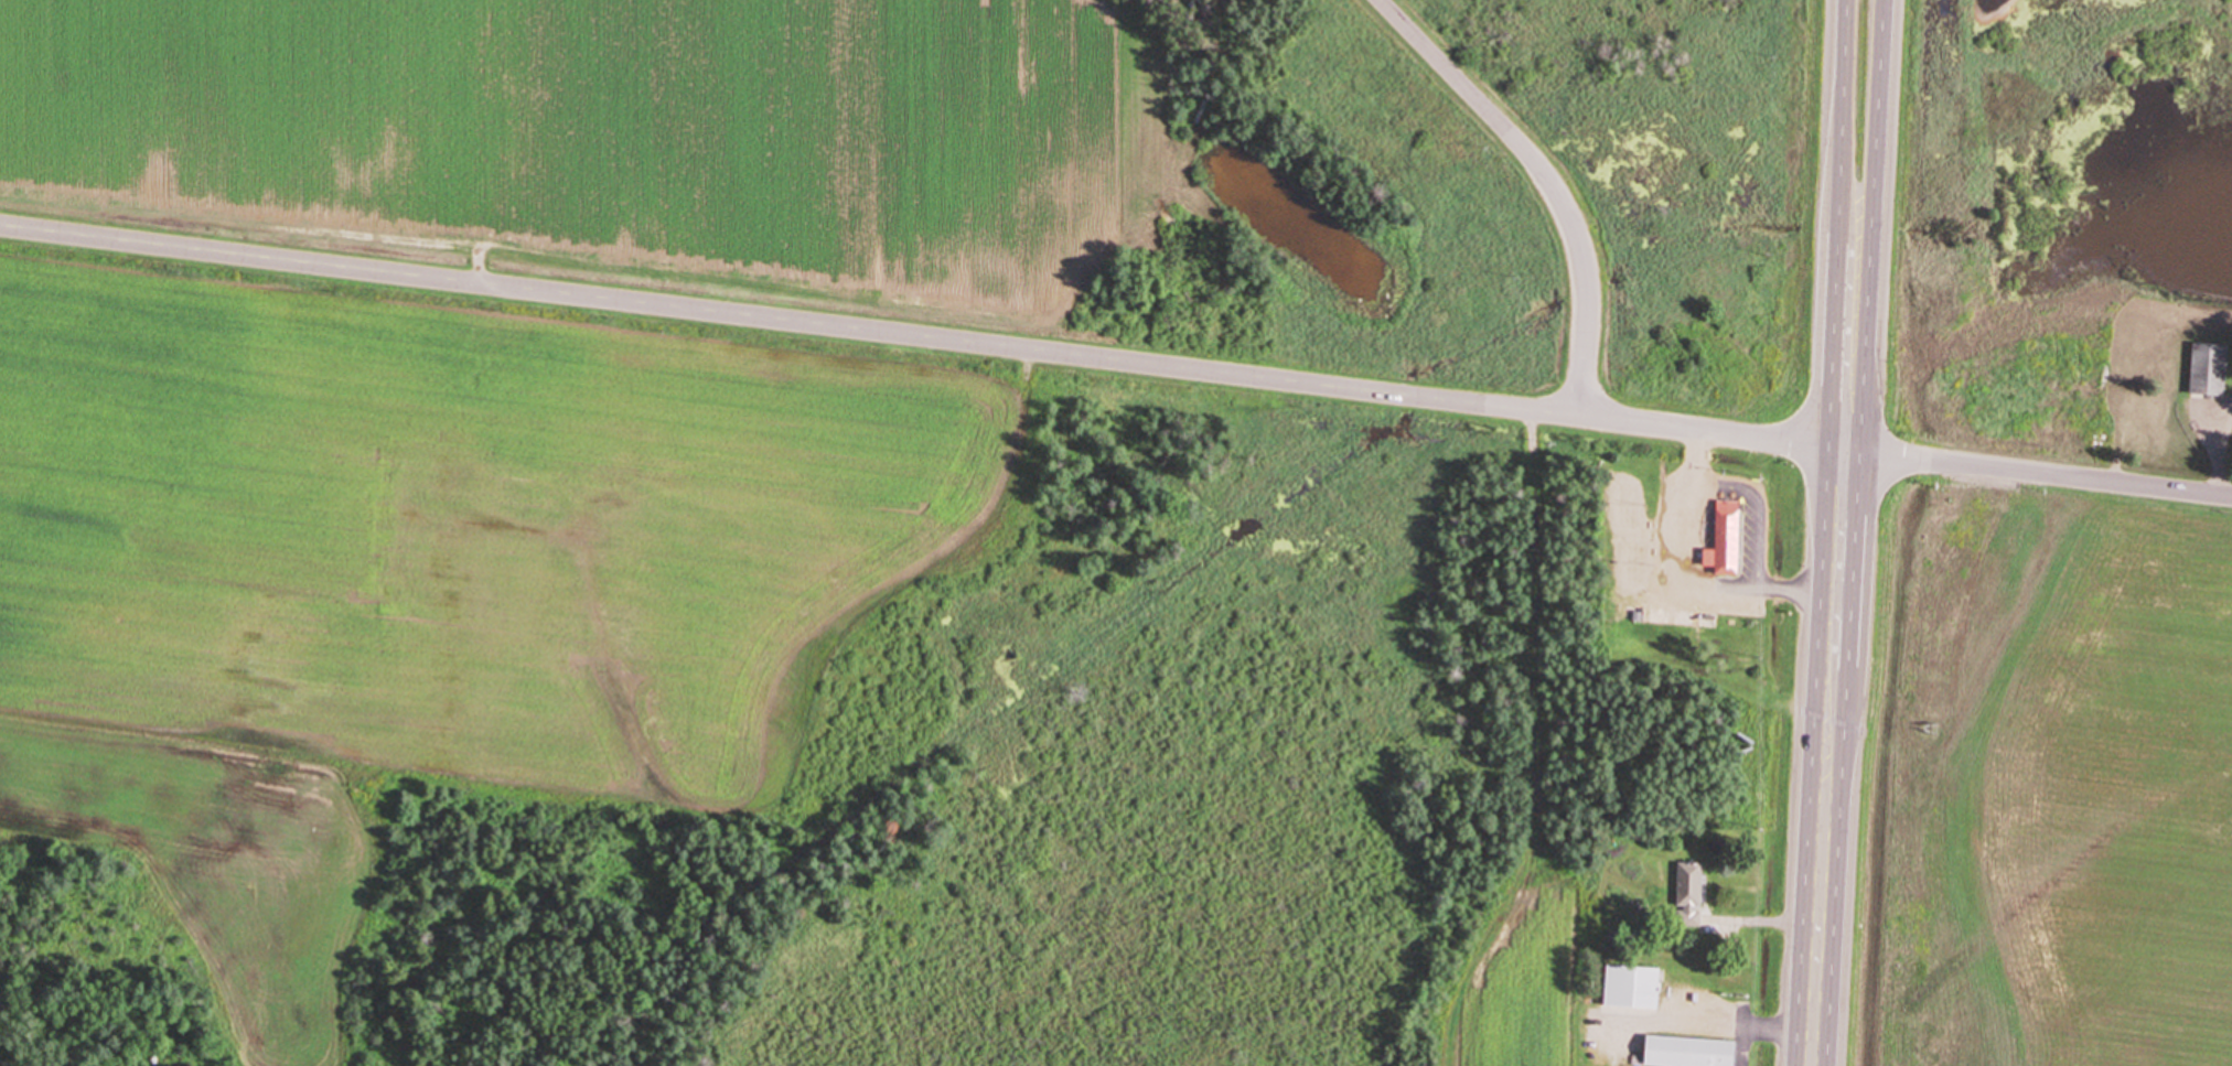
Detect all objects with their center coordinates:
road: (1546, 179)
road: (1838, 225)
road: (1872, 226)
road: (920, 337)
building: (2211, 370)
road: (2225, 453)
road: (1695, 462)
road: (2036, 474)
building: (1728, 541)
road: (1826, 758)
crop: (2040, 780)
building: (1692, 896)
road: (1777, 925)
building: (1635, 988)
road: (1770, 1029)
building: (1692, 1052)

